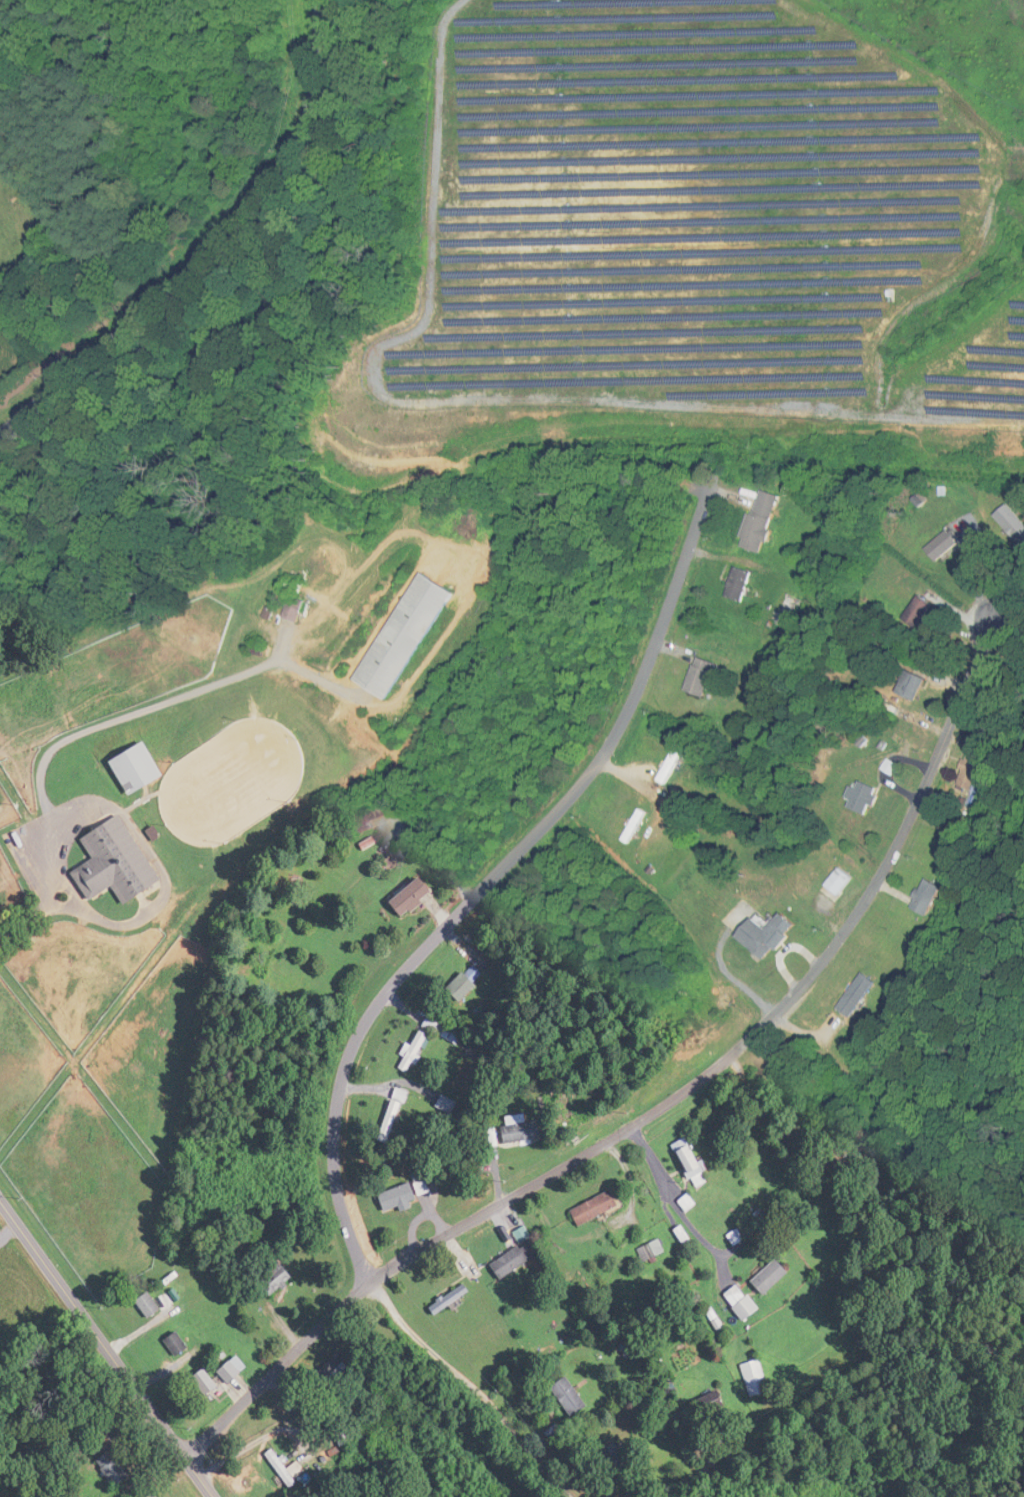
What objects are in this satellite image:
road: (218, 254)
building: (766, 520)
building: (945, 546)
building: (742, 584)
building: (300, 603)
building: (794, 612)
building: (409, 635)
building: (771, 669)
building: (704, 677)
building: (918, 684)
building: (679, 763)
building: (141, 768)
building: (976, 786)
building: (869, 798)
building: (640, 825)
building: (118, 863)
building: (847, 881)
building: (934, 896)
building: (415, 898)
building: (775, 935)
road: (394, 985)
building: (469, 987)
building: (863, 996)
building: (432, 1039)
road: (665, 1101)
road: (768, 1116)
building: (392, 1119)
building: (523, 1132)
building: (691, 1161)
building: (409, 1193)
building: (598, 1208)
building: (687, 1237)
building: (515, 1261)
building: (774, 1276)
building: (451, 1299)
building: (745, 1302)
building: (150, 1305)
building: (178, 1344)
road: (106, 1348)
building: (235, 1370)
building: (758, 1377)
building: (208, 1382)
building: (572, 1397)
building: (715, 1404)
building: (347, 1435)
building: (286, 1467)
road: (721, 1467)
building: (118, 1469)
building: (157, 1495)

